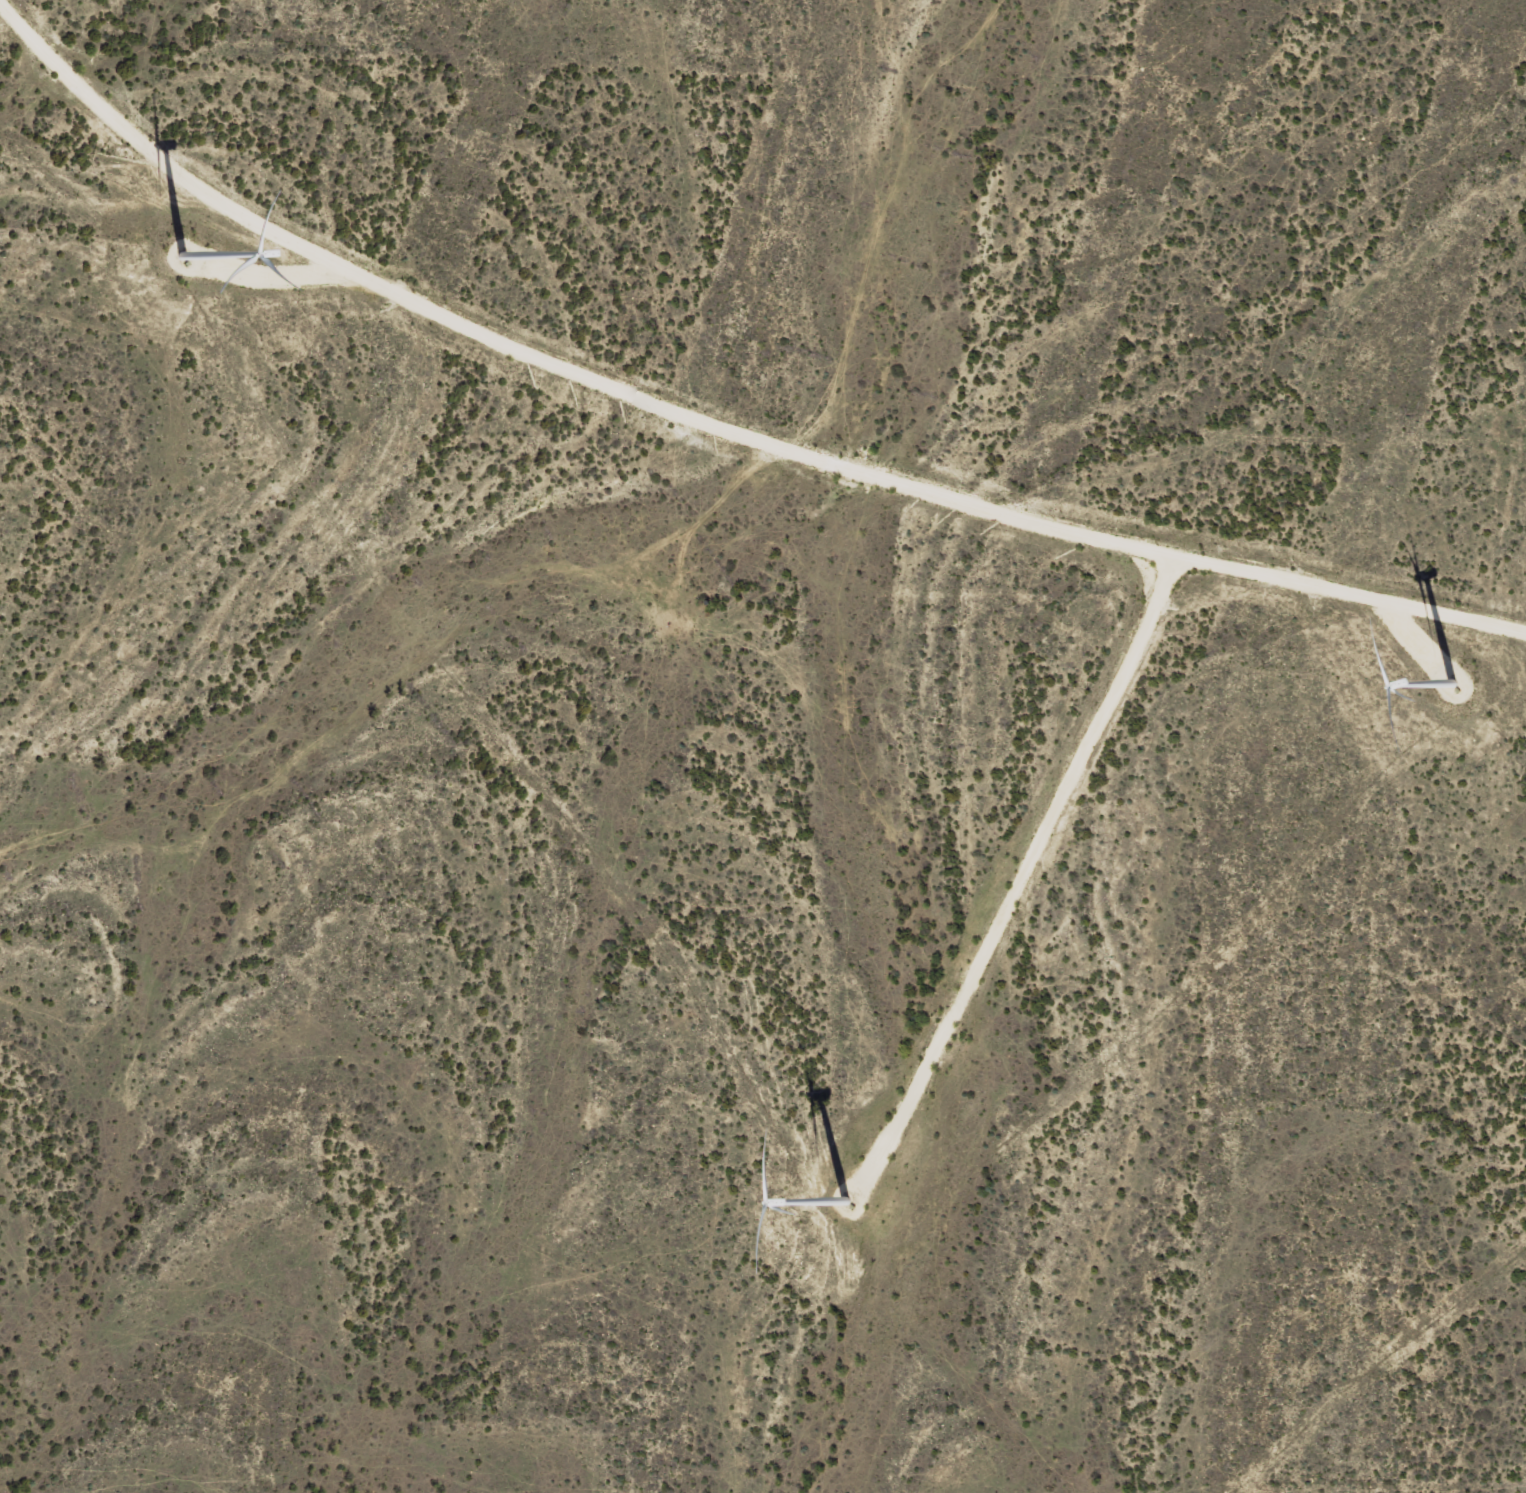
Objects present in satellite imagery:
wind turbine: (173, 254)
road: (713, 425)
wind turbine: (1445, 689)
wind turbine: (833, 1203)

